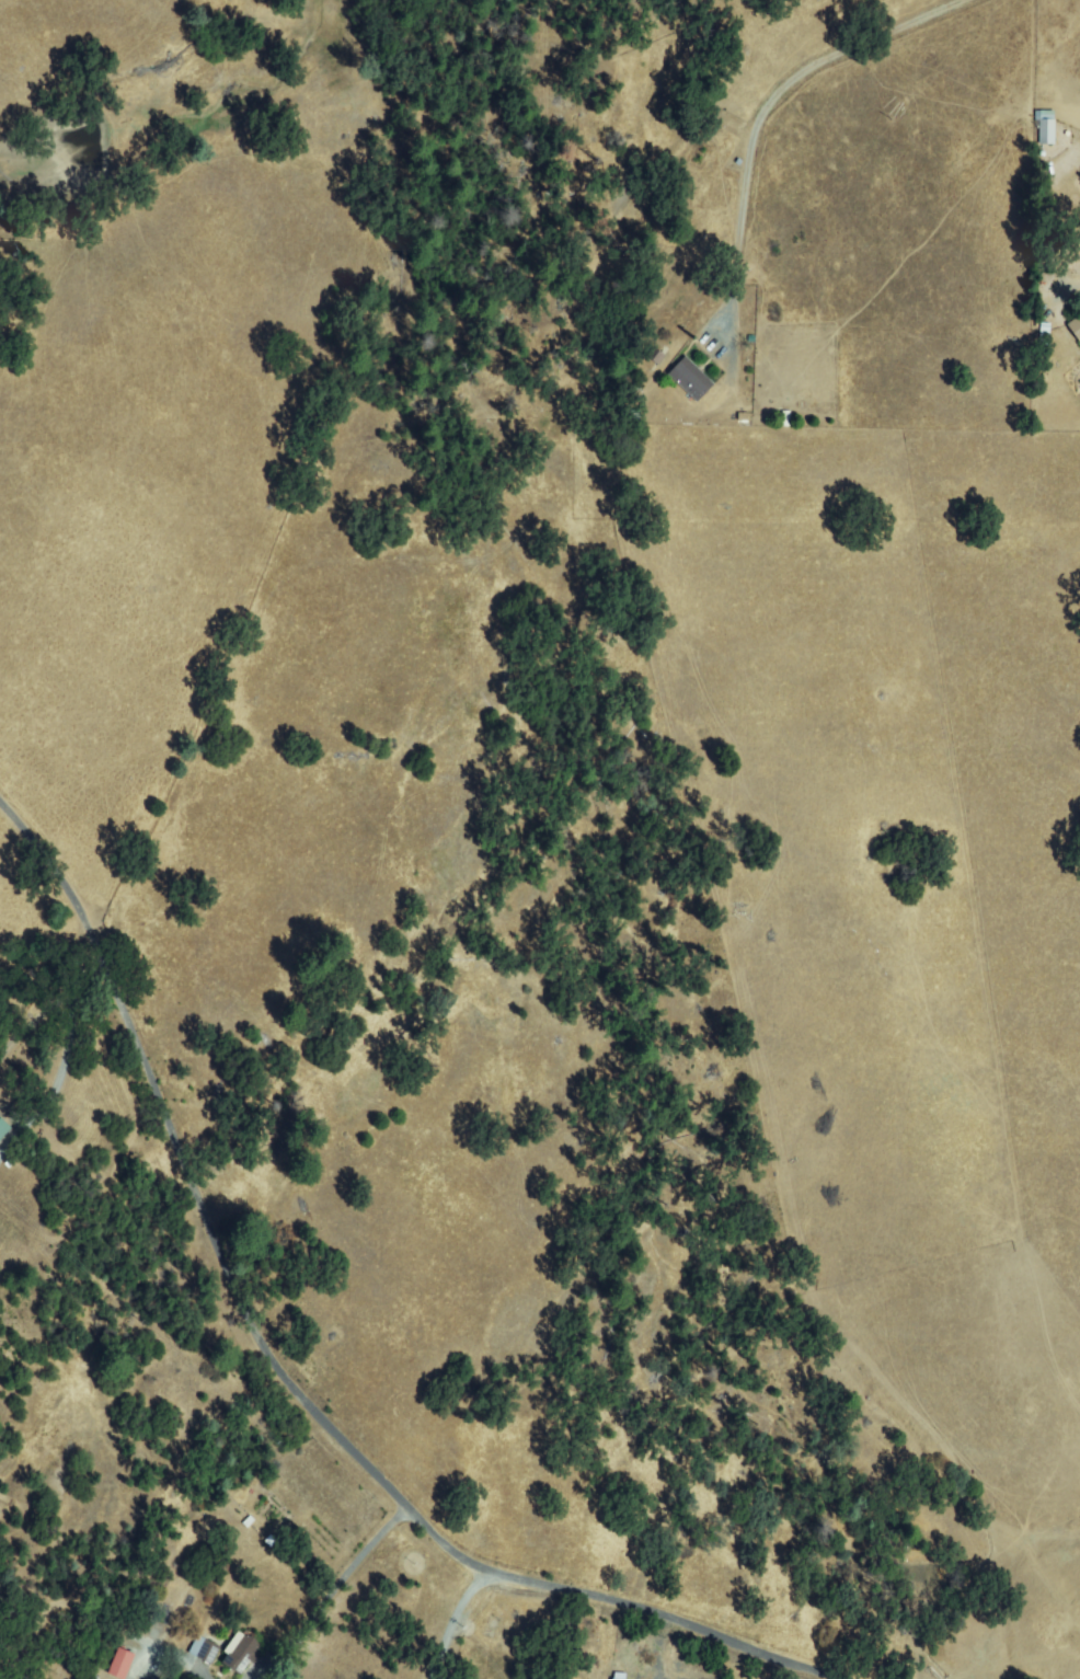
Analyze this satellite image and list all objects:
building: (1046, 127)
road: (755, 151)
building: (1077, 327)
building: (1045, 335)
building: (645, 358)
building: (691, 380)
road: (751, 480)
building: (3, 1129)
road: (290, 1375)
road: (456, 1619)
building: (209, 1652)
building: (242, 1654)
building: (123, 1664)

